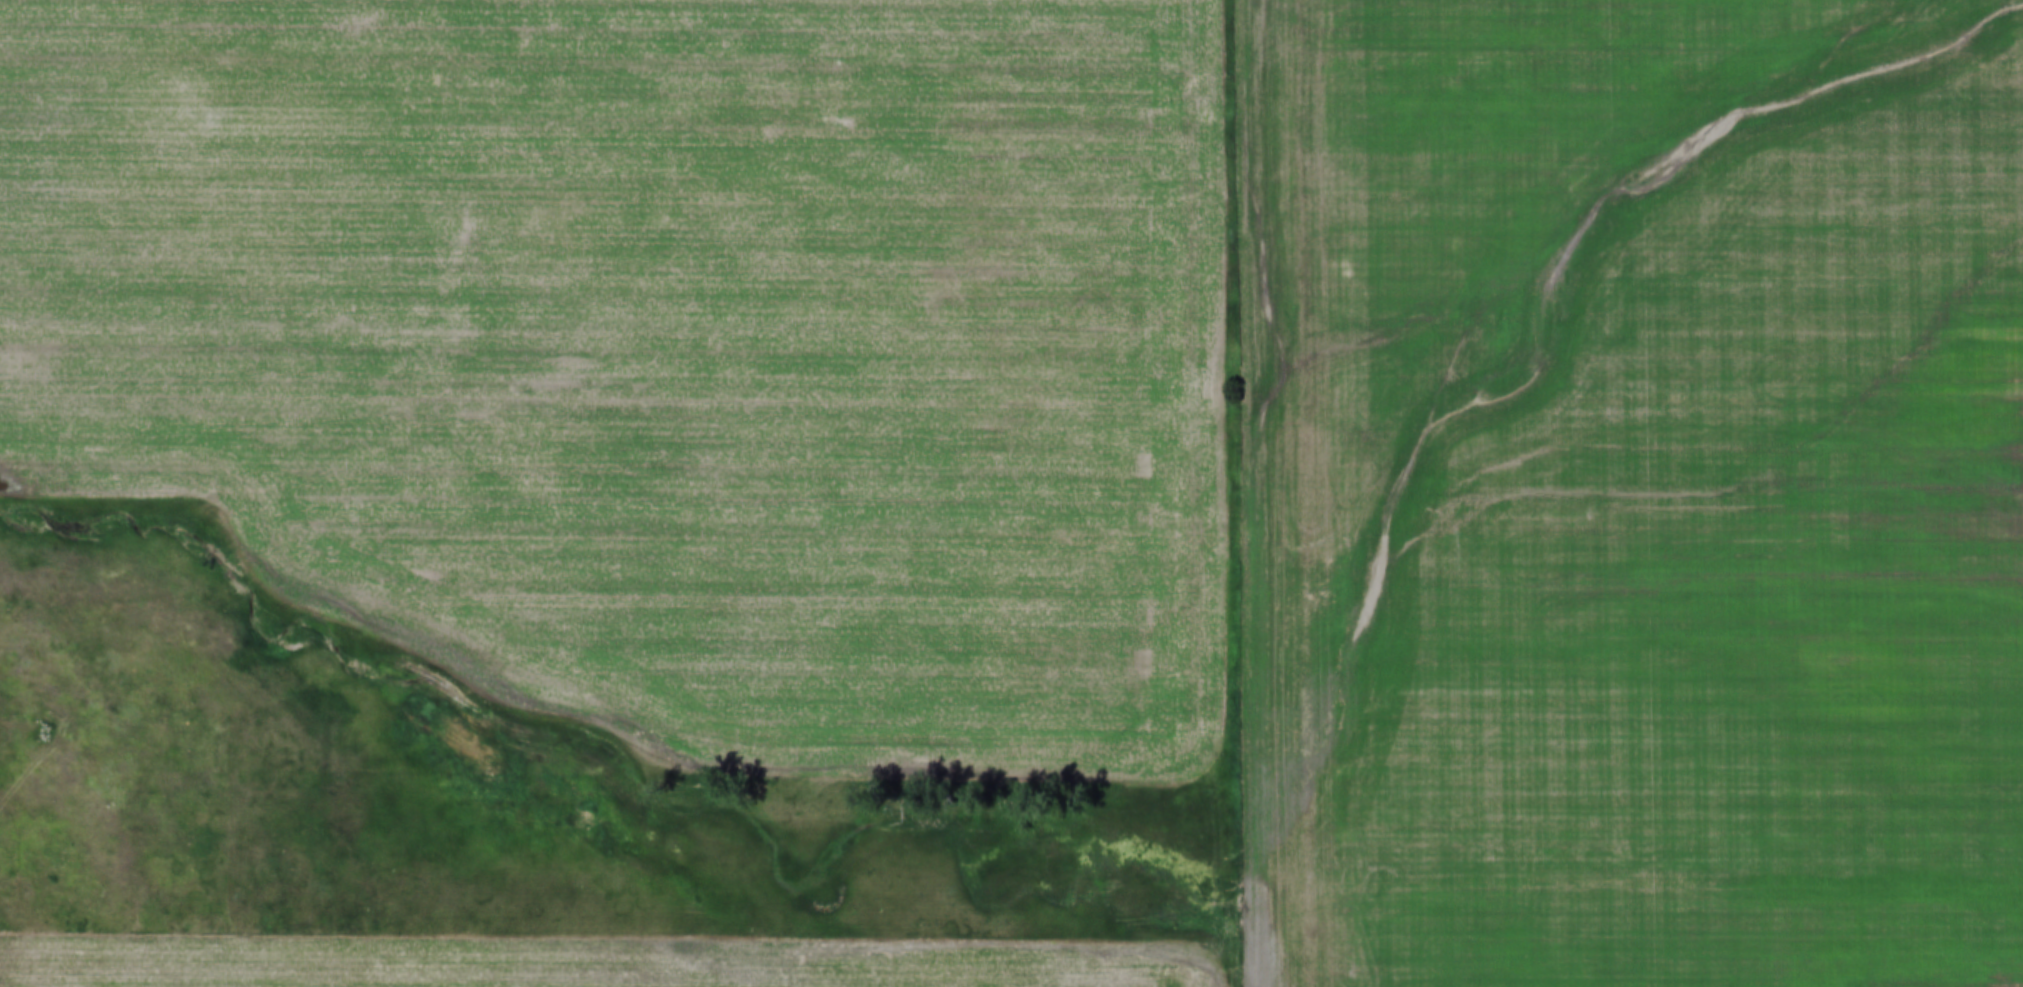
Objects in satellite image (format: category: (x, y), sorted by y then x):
crop: (654, 348)
crop: (584, 964)

